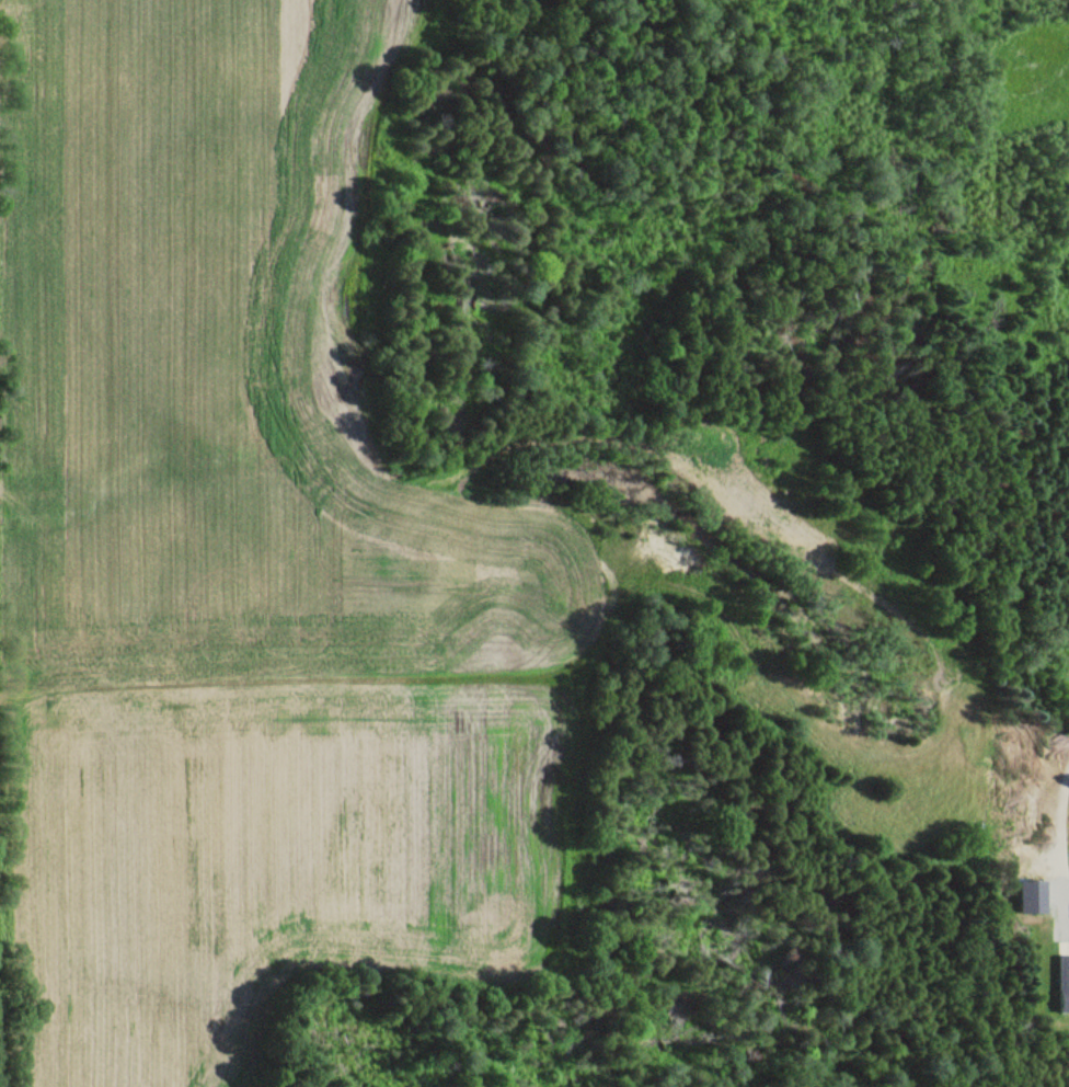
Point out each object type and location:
building: (1034, 896)
building: (1065, 983)

